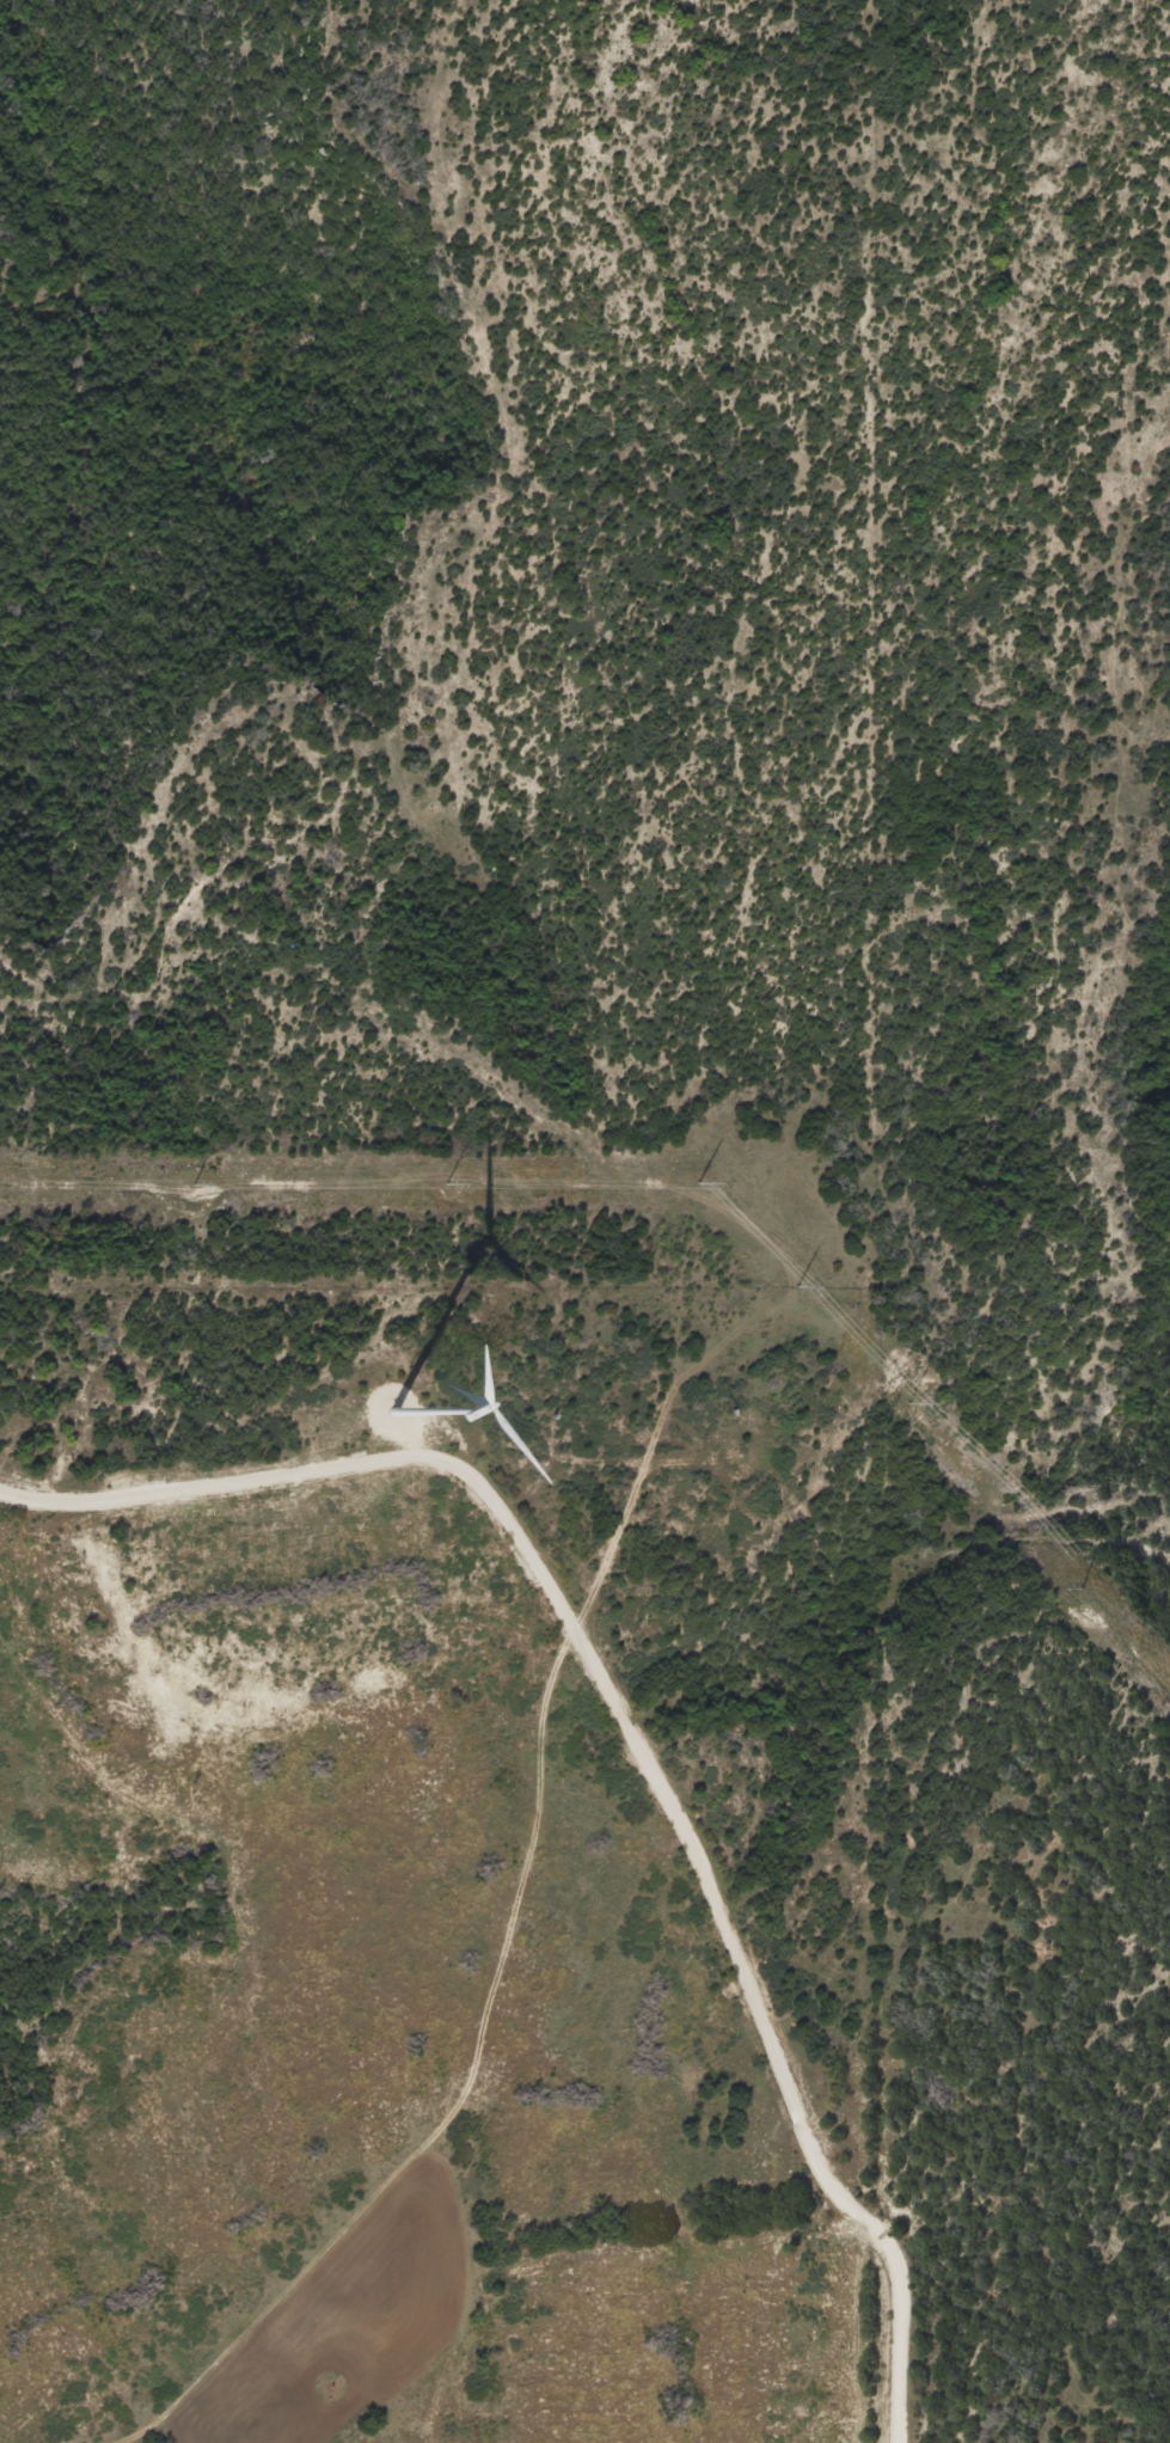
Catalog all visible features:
power tower: (447, 1181)
power tower: (696, 1181)
power tower: (195, 1184)
power tower: (795, 1286)
power tower: (907, 1401)
wind turbine: (378, 1415)
power tower: (1084, 1587)
road: (724, 1917)

